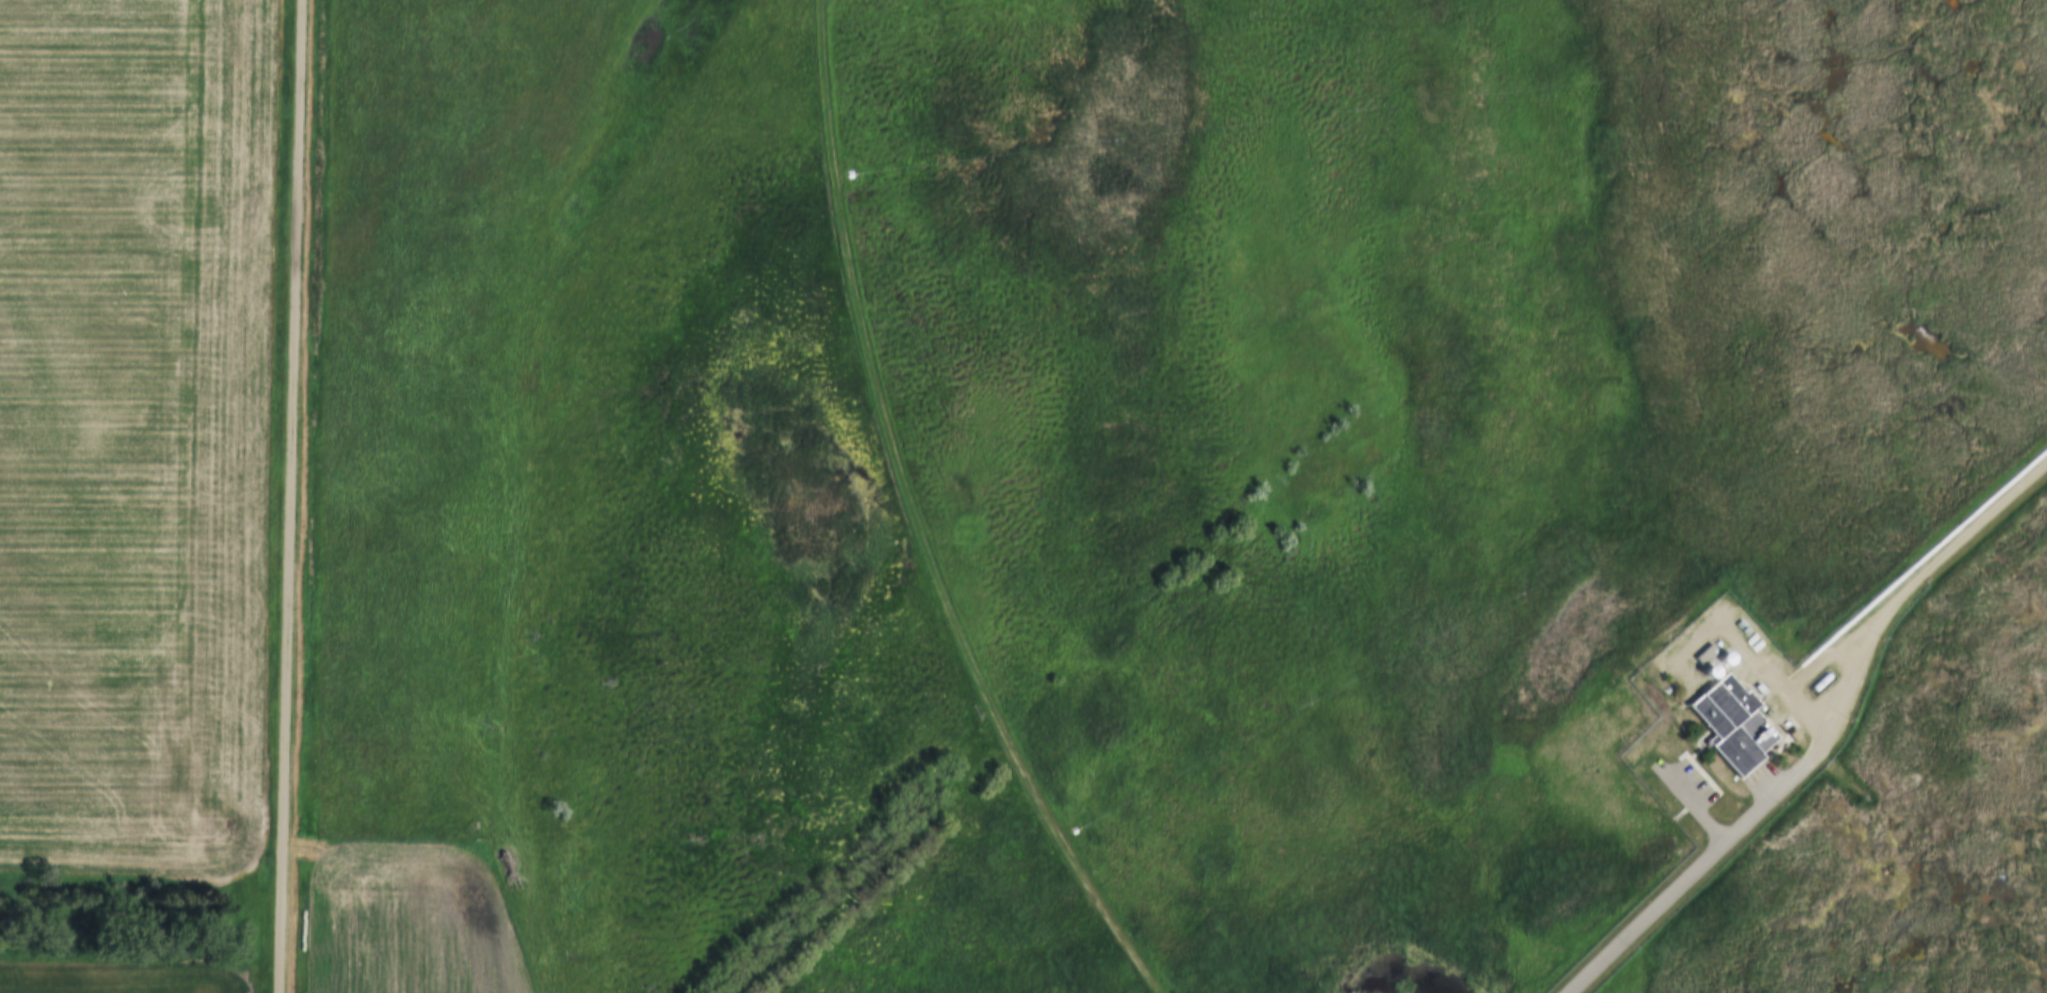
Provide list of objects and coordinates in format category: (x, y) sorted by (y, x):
road: (293, 496)
road: (927, 523)
road: (1902, 599)
building: (1709, 652)
building: (1728, 657)
storage tank: (1728, 657)
building: (1714, 669)
storage tank: (1714, 669)
building: (1825, 681)
building: (1736, 723)
storage tank: (1736, 723)
road: (1688, 879)

